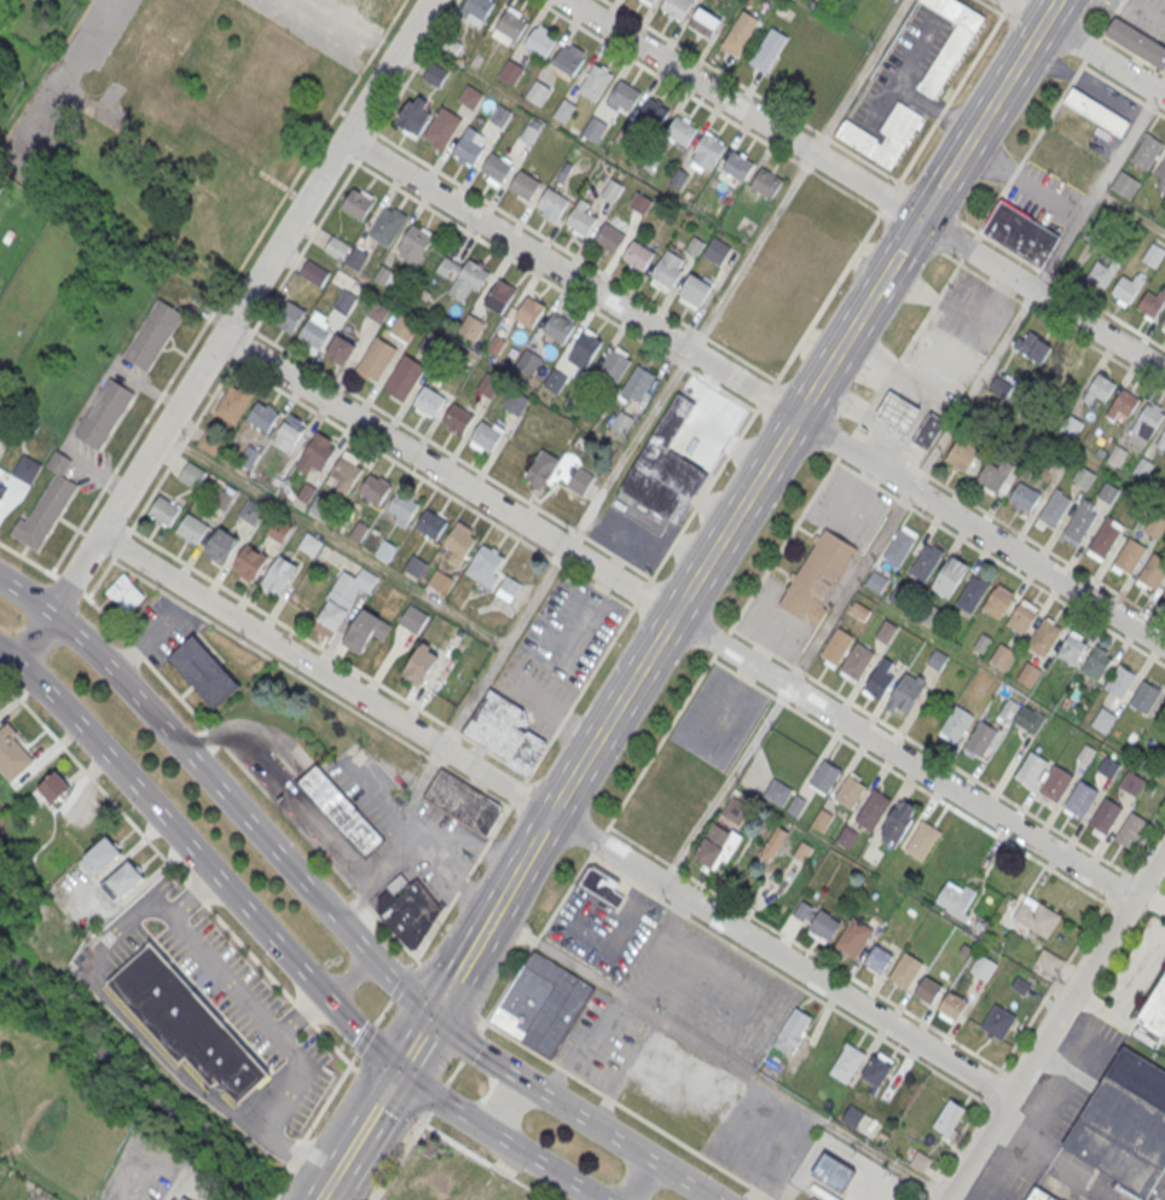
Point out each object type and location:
building: (651, 0)
building: (893, 0)
road: (1008, 4)
road: (992, 6)
building: (479, 7)
building: (677, 7)
road: (1143, 11)
parking lot: (1146, 17)
road: (1111, 18)
building: (705, 22)
building: (511, 23)
building: (741, 31)
building: (950, 41)
building: (1137, 41)
building: (540, 42)
road: (1092, 48)
building: (767, 50)
road: (1089, 50)
road: (1134, 53)
building: (569, 58)
road: (415, 68)
parking lot: (904, 70)
building: (511, 71)
building: (435, 74)
building: (596, 83)
road: (1123, 91)
building: (538, 92)
road: (755, 93)
building: (626, 95)
building: (470, 97)
road: (950, 97)
road: (342, 109)
road: (714, 109)
building: (1096, 110)
building: (415, 114)
building: (654, 115)
road: (358, 118)
building: (442, 128)
building: (595, 128)
building: (682, 132)
road: (1130, 134)
building: (857, 135)
road: (366, 146)
road: (1030, 146)
building: (468, 150)
building: (1147, 150)
road: (344, 152)
building: (708, 152)
building: (738, 166)
building: (495, 167)
building: (1161, 174)
building: (524, 184)
building: (1125, 184)
building: (769, 185)
road: (863, 186)
building: (612, 191)
road: (887, 196)
parking lot: (1043, 196)
building: (553, 203)
road: (933, 203)
building: (357, 204)
road: (1086, 204)
building: (580, 219)
traffic signals: (918, 221)
building: (389, 226)
building: (1020, 233)
road: (916, 234)
building: (610, 237)
building: (415, 243)
road: (305, 245)
road: (969, 245)
building: (336, 248)
building: (717, 251)
road: (573, 254)
building: (637, 254)
building: (1153, 254)
building: (357, 259)
building: (1102, 271)
building: (667, 272)
building: (314, 273)
building: (468, 282)
road: (552, 283)
road: (1062, 283)
road: (227, 285)
building: (1128, 286)
building: (695, 289)
road: (828, 296)
building: (500, 297)
building: (344, 302)
building: (1152, 302)
road: (239, 306)
parking lot: (974, 308)
building: (531, 312)
building: (377, 313)
building: (289, 317)
road: (1054, 319)
road: (240, 320)
building: (1163, 320)
building: (471, 327)
building: (558, 327)
building: (404, 329)
building: (152, 334)
building: (313, 335)
road: (244, 343)
road: (908, 344)
building: (1033, 346)
building: (585, 348)
building: (944, 349)
road: (221, 350)
building: (341, 350)
building: (376, 358)
building: (529, 360)
building: (614, 366)
building: (405, 376)
building: (555, 381)
building: (639, 383)
building: (1002, 383)
building: (488, 384)
road: (754, 389)
road: (923, 392)
road: (765, 395)
building: (429, 400)
building: (515, 401)
building: (233, 402)
building: (1123, 407)
building: (104, 412)
building: (899, 413)
building: (263, 417)
building: (458, 417)
building: (1147, 421)
building: (1071, 427)
building: (929, 431)
building: (485, 434)
building: (289, 435)
building: (1161, 440)
road: (182, 444)
road: (845, 445)
road: (448, 451)
road: (773, 453)
building: (317, 454)
building: (962, 457)
road: (620, 465)
building: (666, 468)
building: (27, 469)
building: (541, 469)
building: (1, 471)
building: (347, 471)
building: (192, 474)
building: (1084, 476)
building: (992, 477)
road: (430, 481)
building: (580, 481)
building: (375, 489)
building: (2, 491)
building: (1108, 491)
road: (909, 493)
road: (703, 494)
building: (1024, 498)
building: (47, 504)
building: (404, 506)
parking lot: (848, 508)
building: (1054, 508)
building: (166, 511)
building: (250, 511)
road: (117, 518)
building: (1079, 522)
road: (1009, 524)
building: (1155, 524)
building: (431, 526)
building: (193, 529)
building: (279, 529)
building: (1105, 538)
road: (121, 543)
building: (460, 543)
road: (782, 544)
building: (222, 545)
building: (899, 545)
building: (1130, 555)
road: (28, 560)
building: (253, 560)
building: (488, 561)
road: (999, 561)
building: (926, 562)
building: (416, 566)
building: (1153, 569)
building: (280, 574)
road: (102, 575)
building: (949, 575)
building: (818, 576)
building: (440, 581)
building: (876, 581)
road: (69, 584)
building: (508, 587)
building: (124, 592)
building: (973, 592)
road: (642, 593)
building: (344, 596)
building: (1164, 597)
building: (996, 602)
road: (678, 614)
building: (1021, 618)
building: (413, 619)
parking lot: (775, 621)
building: (886, 631)
building: (363, 632)
building: (1044, 636)
road: (31, 637)
road: (720, 642)
building: (981, 642)
building: (837, 645)
road: (326, 649)
building: (1071, 649)
building: (1003, 655)
road: (145, 659)
building: (937, 659)
building: (858, 660)
building: (1096, 662)
building: (423, 666)
road: (555, 667)
building: (202, 669)
building: (1030, 673)
road: (743, 677)
building: (879, 677)
building: (1120, 678)
road: (311, 683)
building: (906, 691)
road: (579, 692)
building: (1144, 695)
road: (779, 700)
building: (1021, 715)
parking lot: (719, 717)
building: (1103, 719)
building: (956, 721)
building: (504, 730)
road: (215, 737)
building: (980, 738)
road: (659, 741)
road: (929, 750)
building: (1084, 753)
building: (12, 754)
road: (192, 758)
building: (1108, 766)
building: (1163, 766)
building: (1032, 771)
building: (825, 775)
building: (1056, 782)
building: (1131, 782)
road: (725, 784)
building: (53, 787)
building: (850, 790)
road: (518, 792)
building: (777, 792)
building: (1080, 798)
building: (463, 801)
road: (945, 802)
building: (874, 807)
building: (341, 808)
building: (735, 810)
building: (1106, 815)
road: (552, 817)
road: (166, 818)
building: (898, 822)
building: (1131, 828)
building: (847, 837)
building: (922, 839)
road: (598, 841)
road: (1143, 841)
road: (638, 845)
building: (771, 845)
building: (717, 847)
road: (323, 854)
building: (100, 857)
road: (674, 866)
road: (179, 874)
building: (123, 880)
road: (460, 885)
building: (602, 886)
road: (1114, 887)
road: (1152, 893)
road: (193, 894)
building: (956, 897)
building: (407, 909)
building: (1036, 916)
building: (816, 921)
road: (773, 928)
road: (537, 937)
building: (854, 937)
road: (105, 943)
building: (879, 957)
building: (1048, 961)
road: (463, 962)
building: (983, 966)
building: (905, 969)
road: (346, 974)
road: (794, 981)
road: (400, 982)
road: (398, 986)
building: (928, 989)
road: (450, 990)
road: (1044, 996)
road: (1126, 998)
building: (541, 1002)
building: (952, 1004)
building: (1154, 1009)
road: (382, 1011)
road: (301, 1015)
traffic signals: (431, 1015)
building: (998, 1021)
road: (1054, 1021)
building: (189, 1022)
road: (481, 1026)
building: (793, 1031)
road: (358, 1034)
road: (364, 1038)
road: (415, 1042)
road: (470, 1043)
road: (470, 1049)
building: (847, 1062)
traffic signals: (399, 1069)
road: (454, 1071)
building: (877, 1071)
river: (122, 1076)
road: (386, 1094)
road: (330, 1095)
road: (436, 1097)
road: (437, 1101)
road: (1060, 1101)
road: (498, 1103)
road: (627, 1108)
building: (949, 1117)
building: (853, 1118)
building: (1125, 1123)
road: (365, 1124)
road: (1016, 1125)
road: (615, 1140)
road: (296, 1148)
road: (951, 1148)
road: (399, 1155)
road: (481, 1160)
building: (920, 1163)
road: (539, 1164)
building: (833, 1173)
road: (277, 1181)
road: (638, 1181)
road: (1079, 1182)
road: (181, 1185)
road: (325, 1190)
river: (262, 1193)
building: (1039, 1194)
building: (184, 1199)

